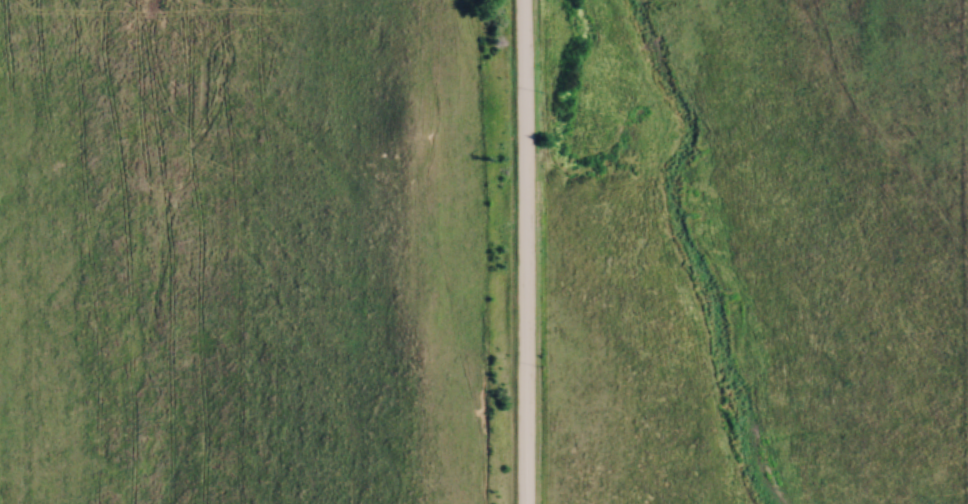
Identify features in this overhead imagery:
road: (528, 251)

